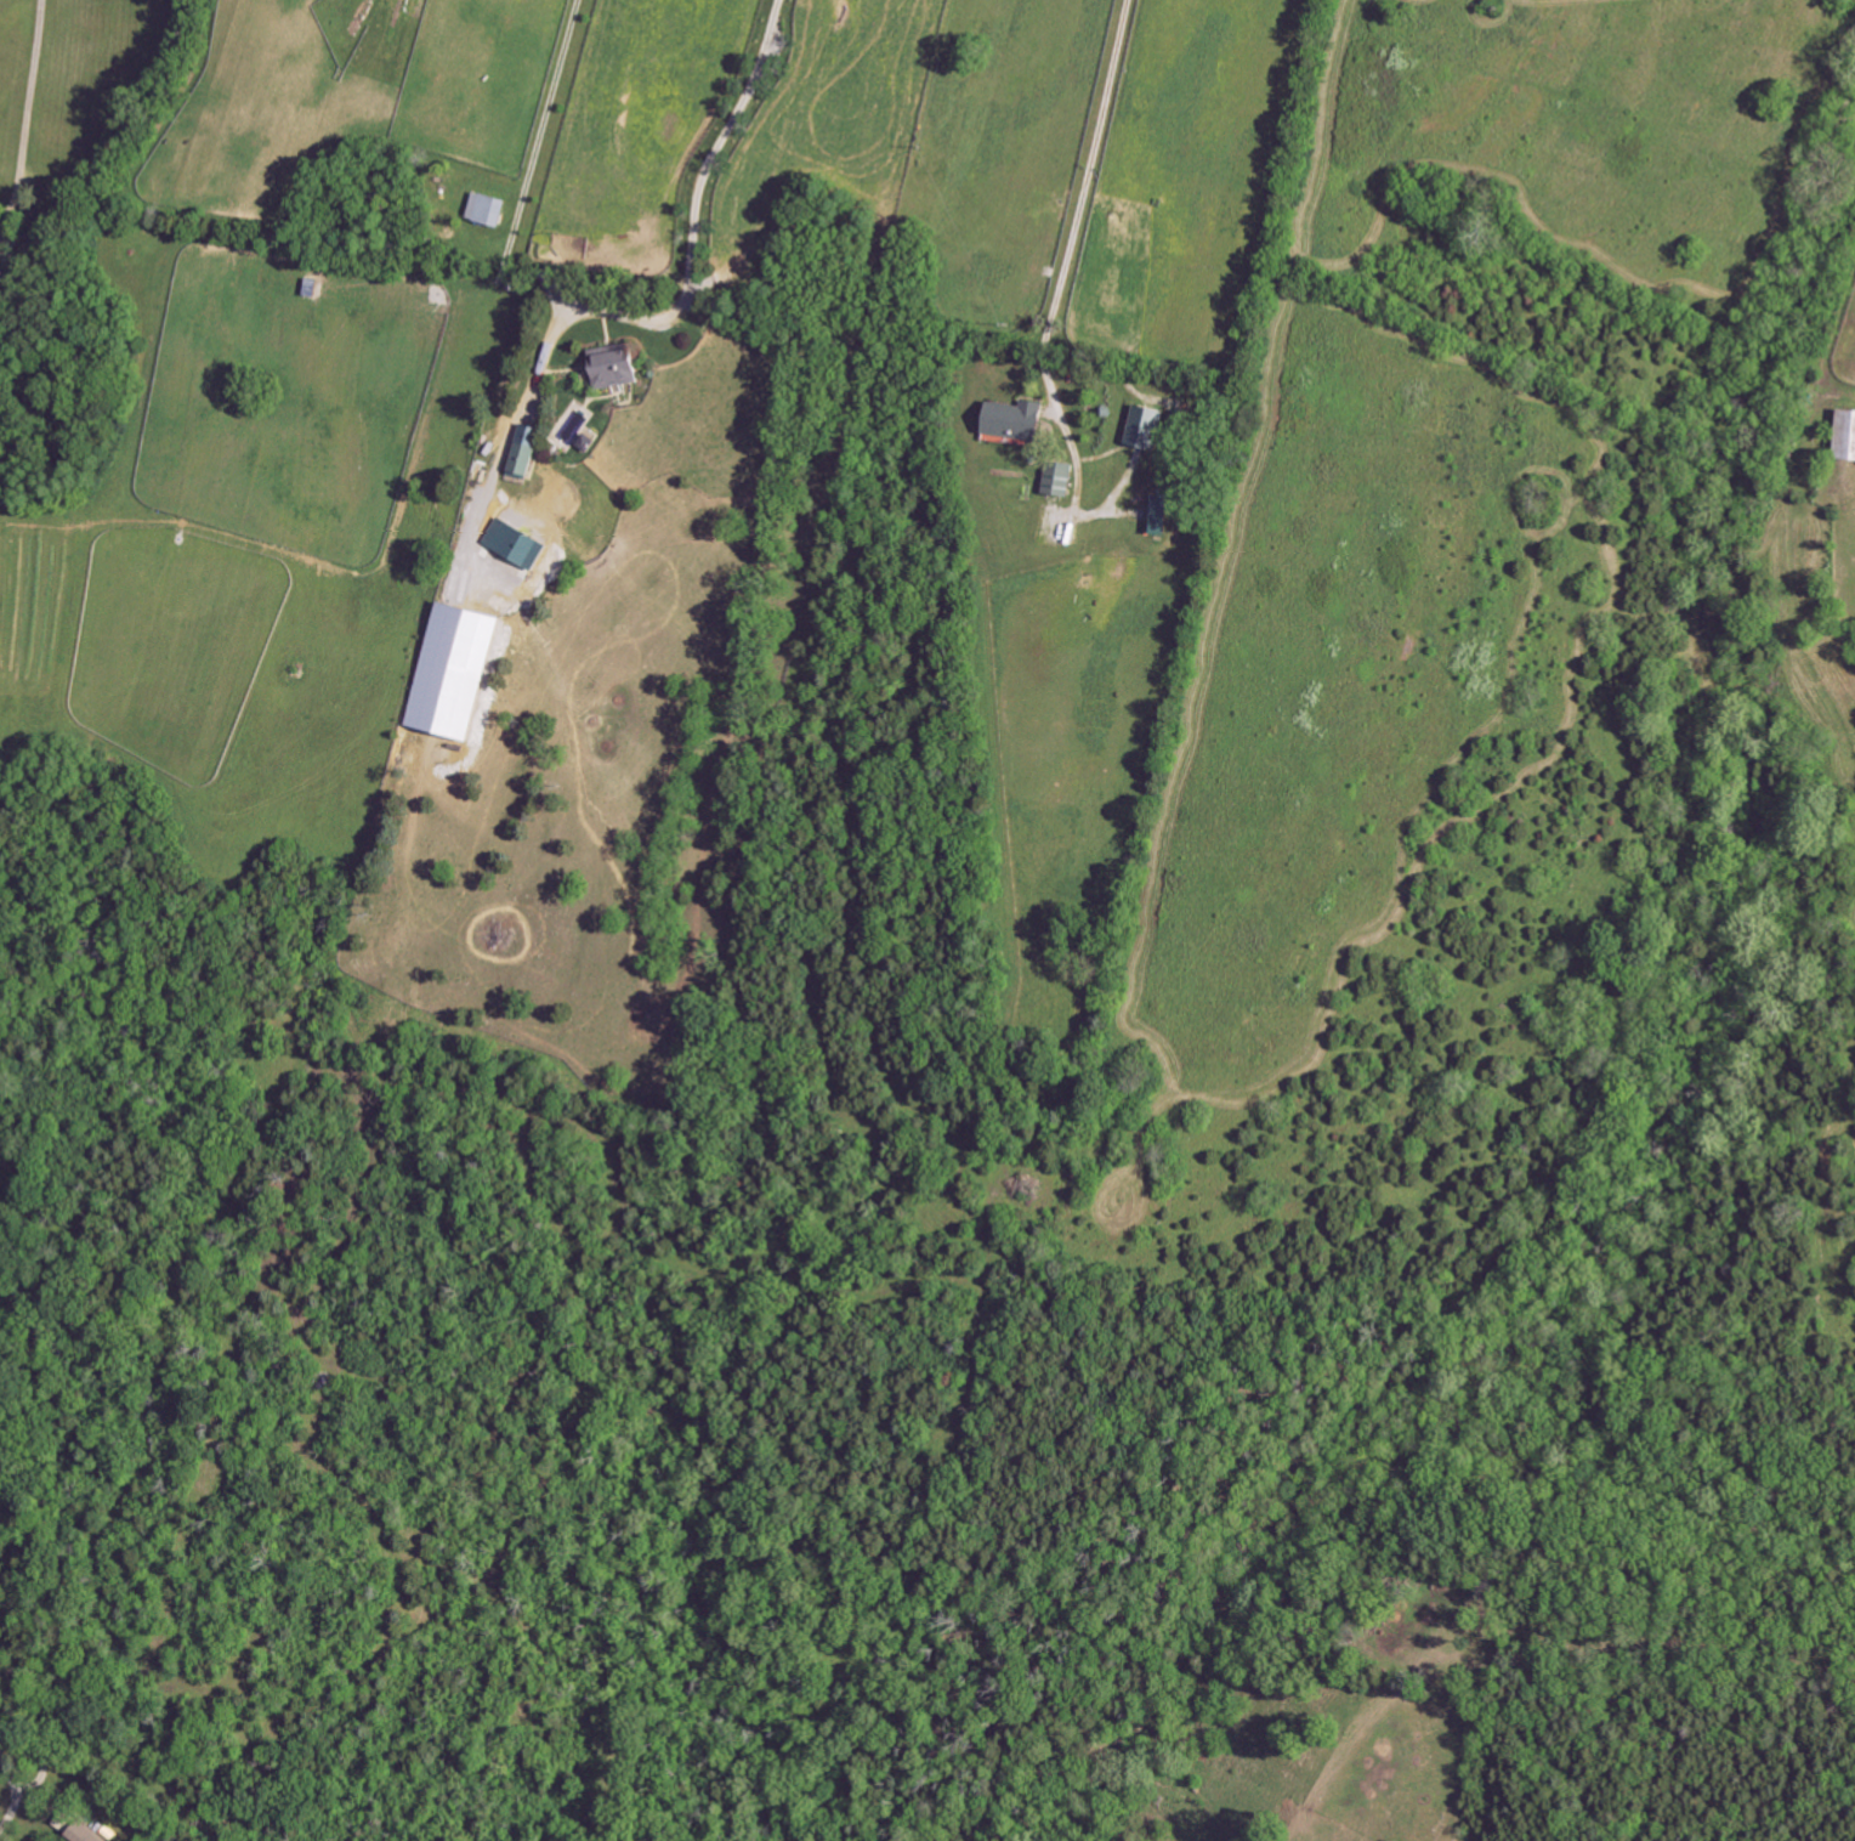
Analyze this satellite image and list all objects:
road: (29, 108)
road: (539, 136)
road: (699, 188)
building: (490, 210)
road: (1076, 222)
building: (2, 285)
road: (521, 404)
building: (1020, 421)
building: (1148, 429)
building: (1848, 437)
building: (589, 443)
building: (527, 453)
building: (1062, 480)
building: (1162, 516)
building: (518, 545)
building: (458, 673)
road: (6, 1768)
building: (86, 1834)

